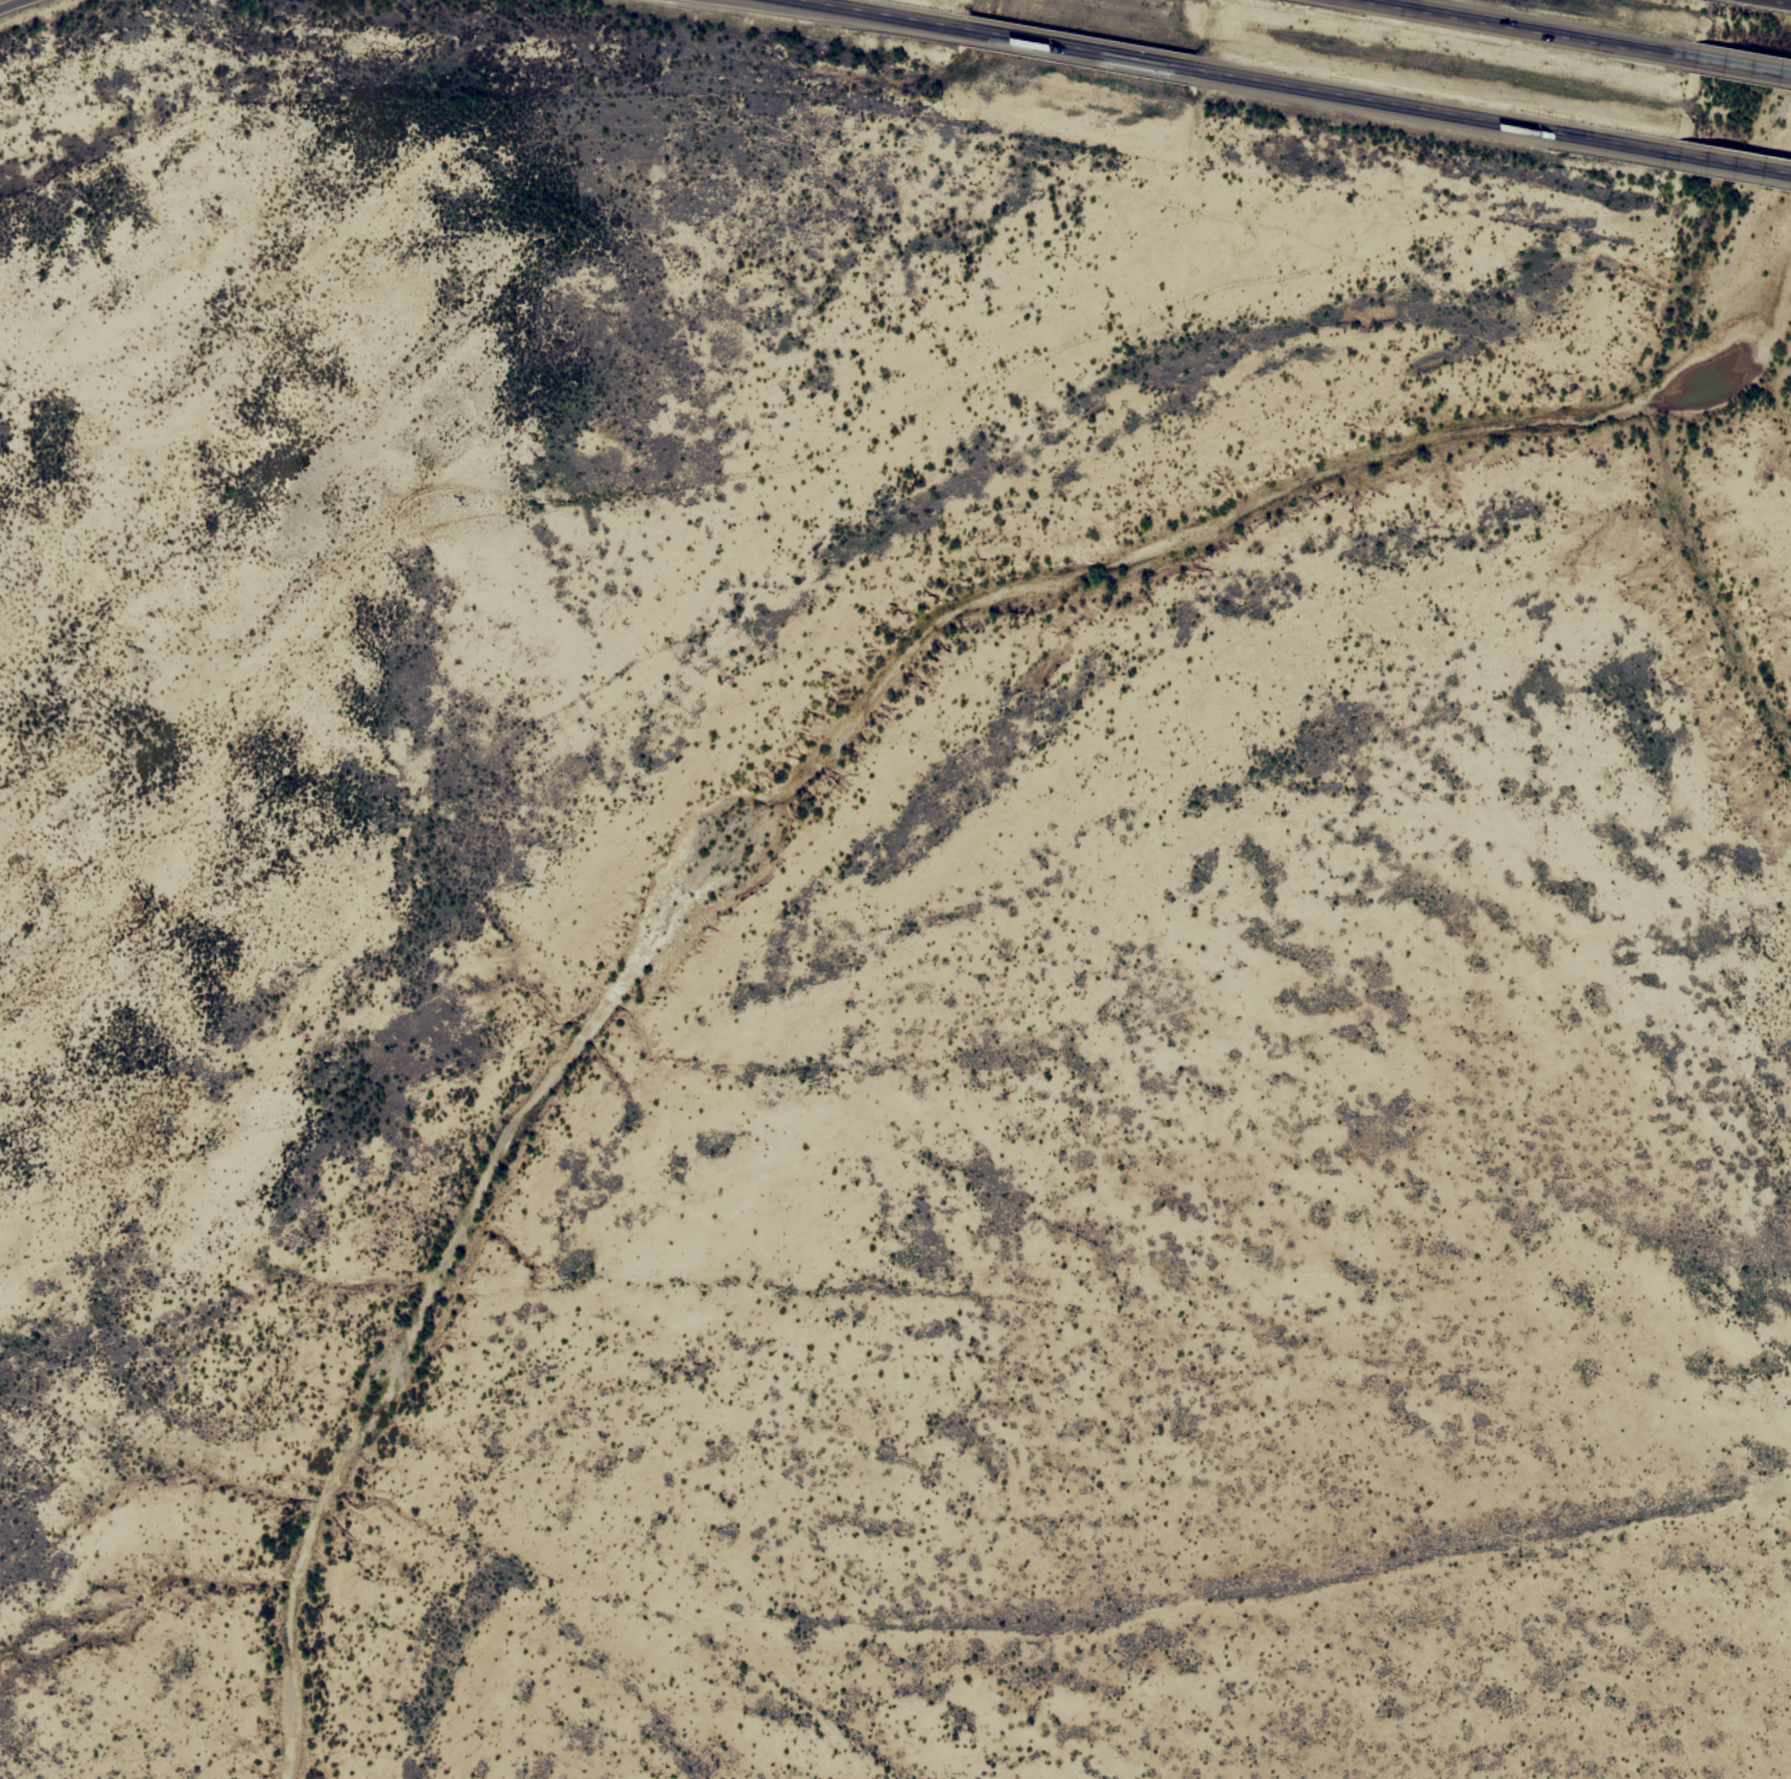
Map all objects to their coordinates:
road: (1773, 2)
road: (12, 5)
road: (876, 13)
road: (1529, 28)
road: (1081, 48)
road: (1743, 65)
road: (1439, 112)
road: (1736, 163)

